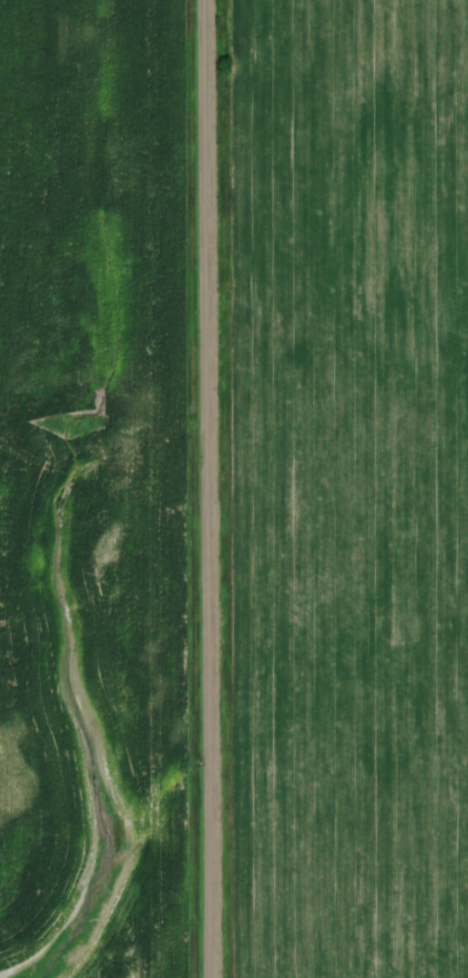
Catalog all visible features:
road: (206, 489)

